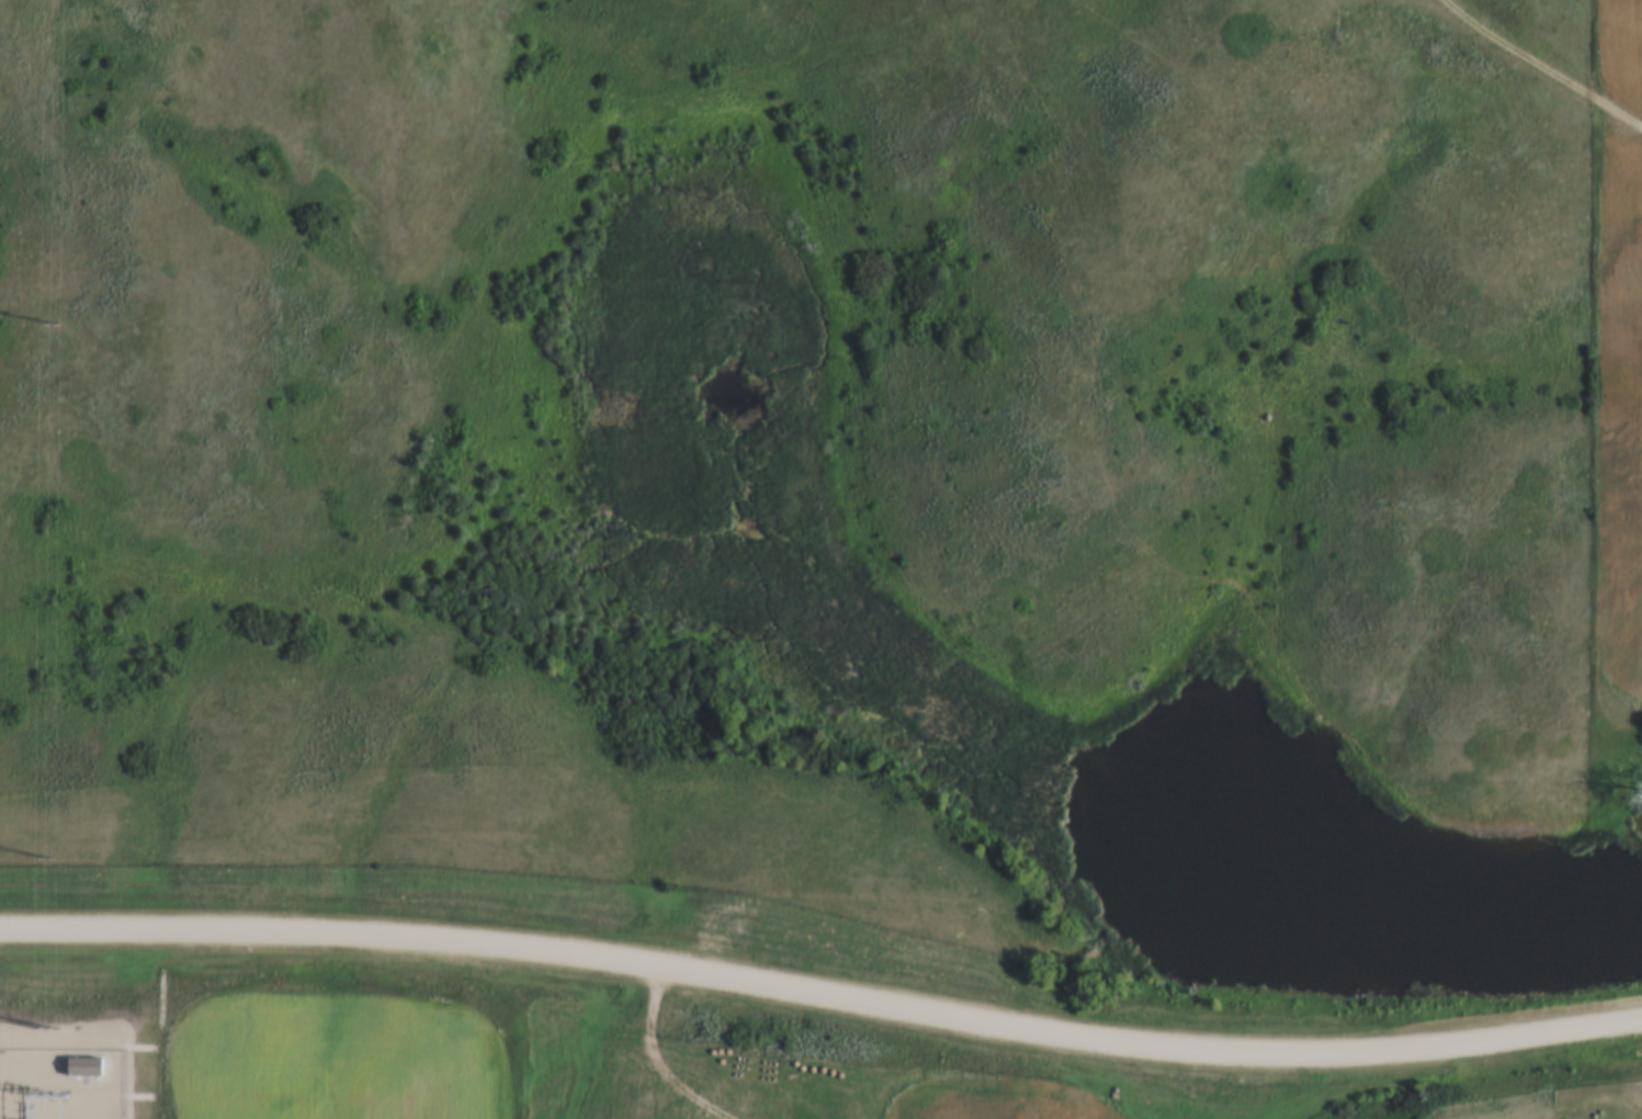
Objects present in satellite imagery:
road: (1545, 91)
road: (822, 987)
building: (93, 1069)
power substation: (66, 1084)

